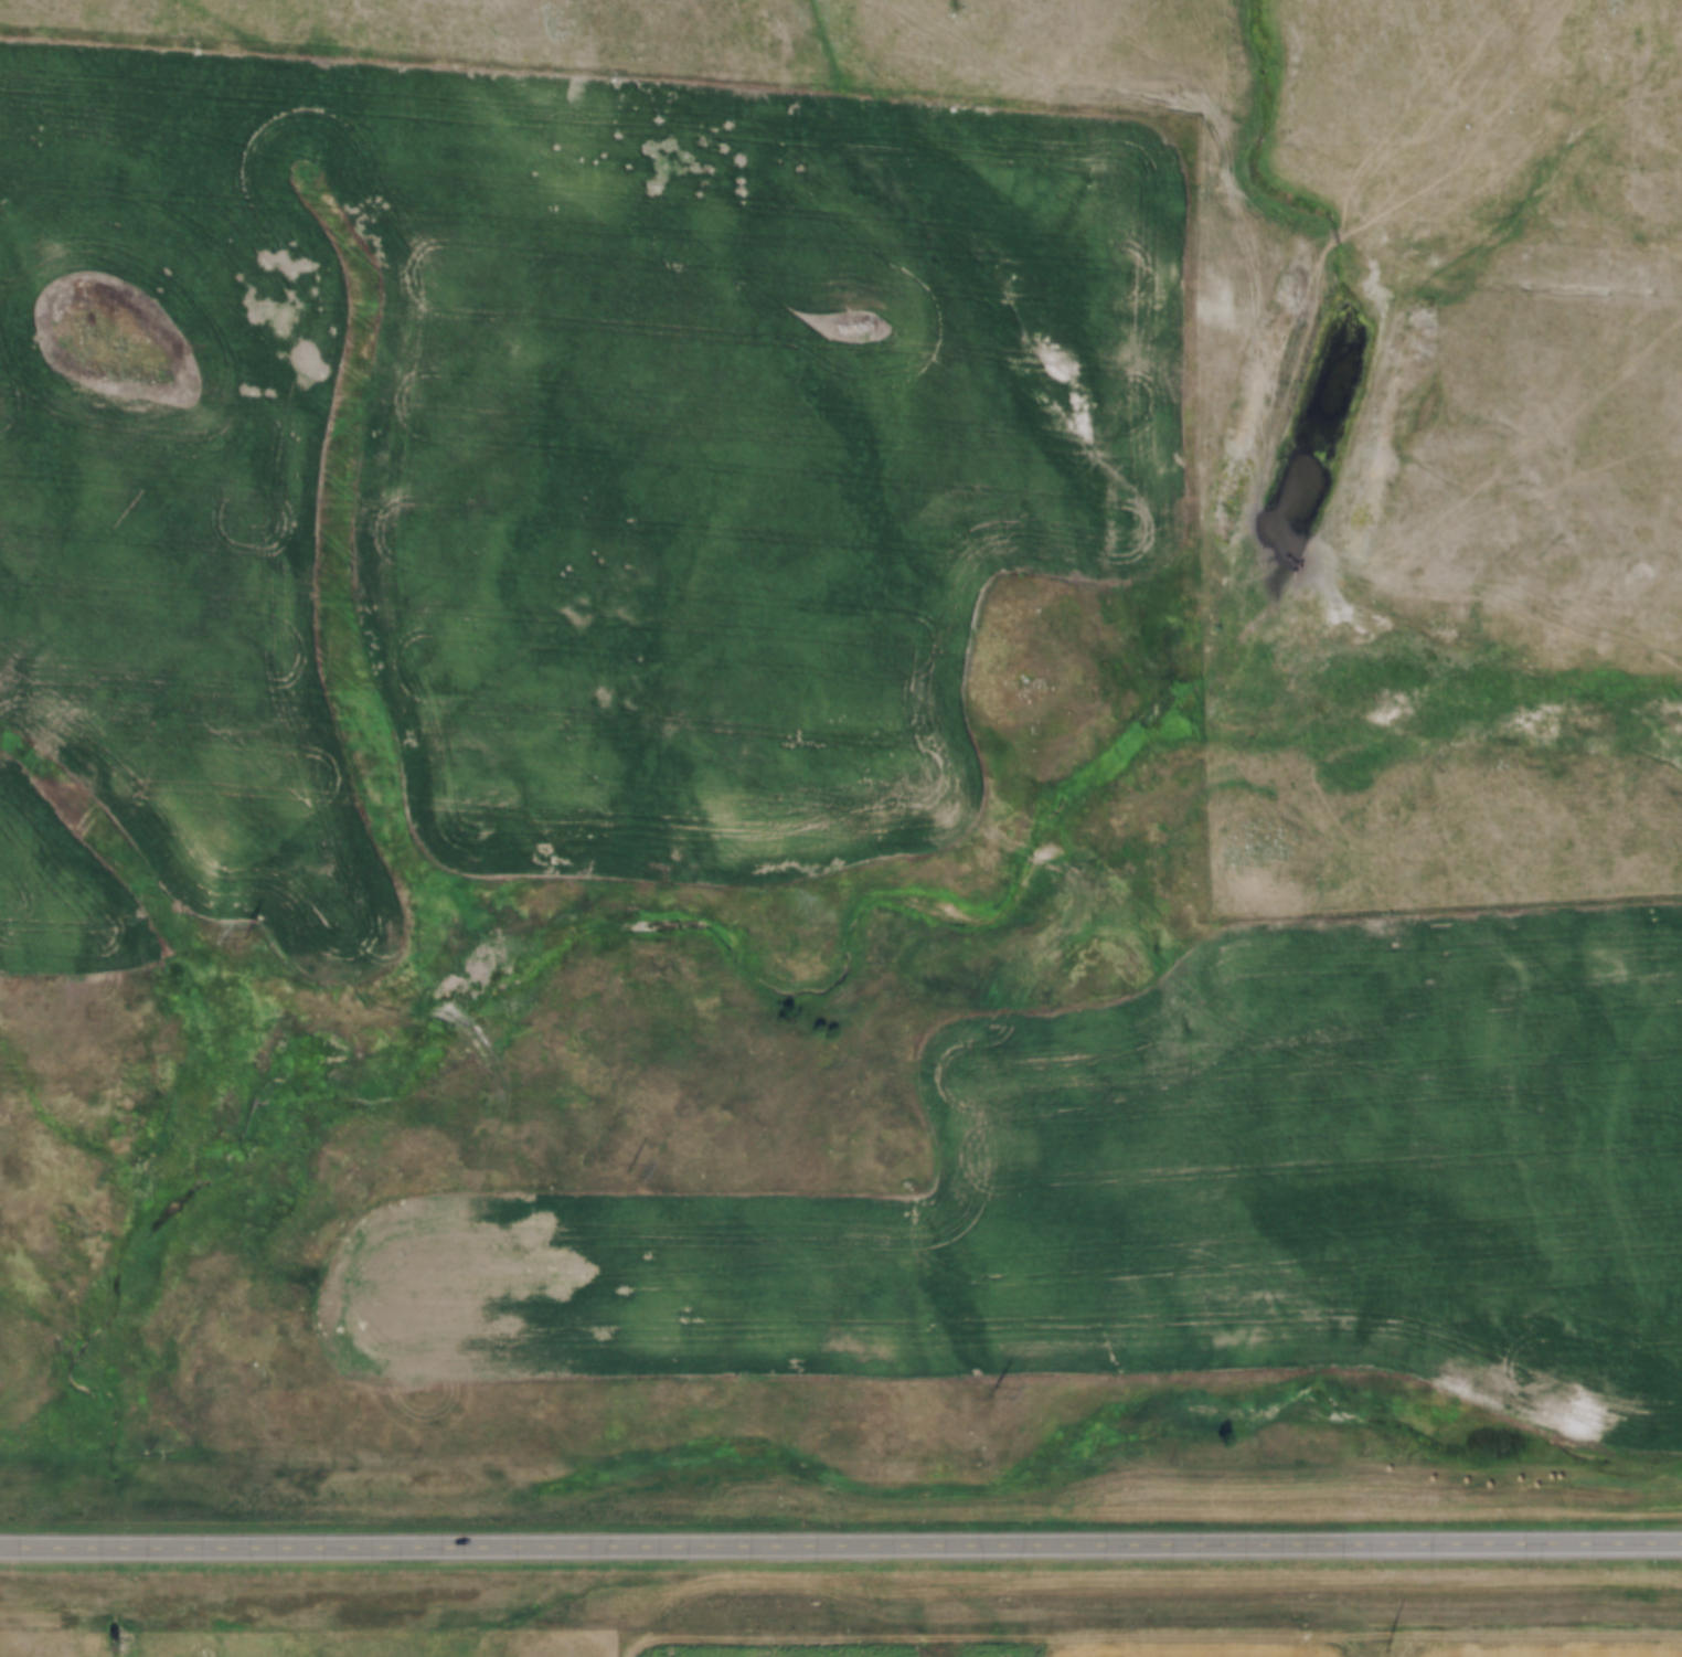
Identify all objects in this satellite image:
road: (840, 1552)

